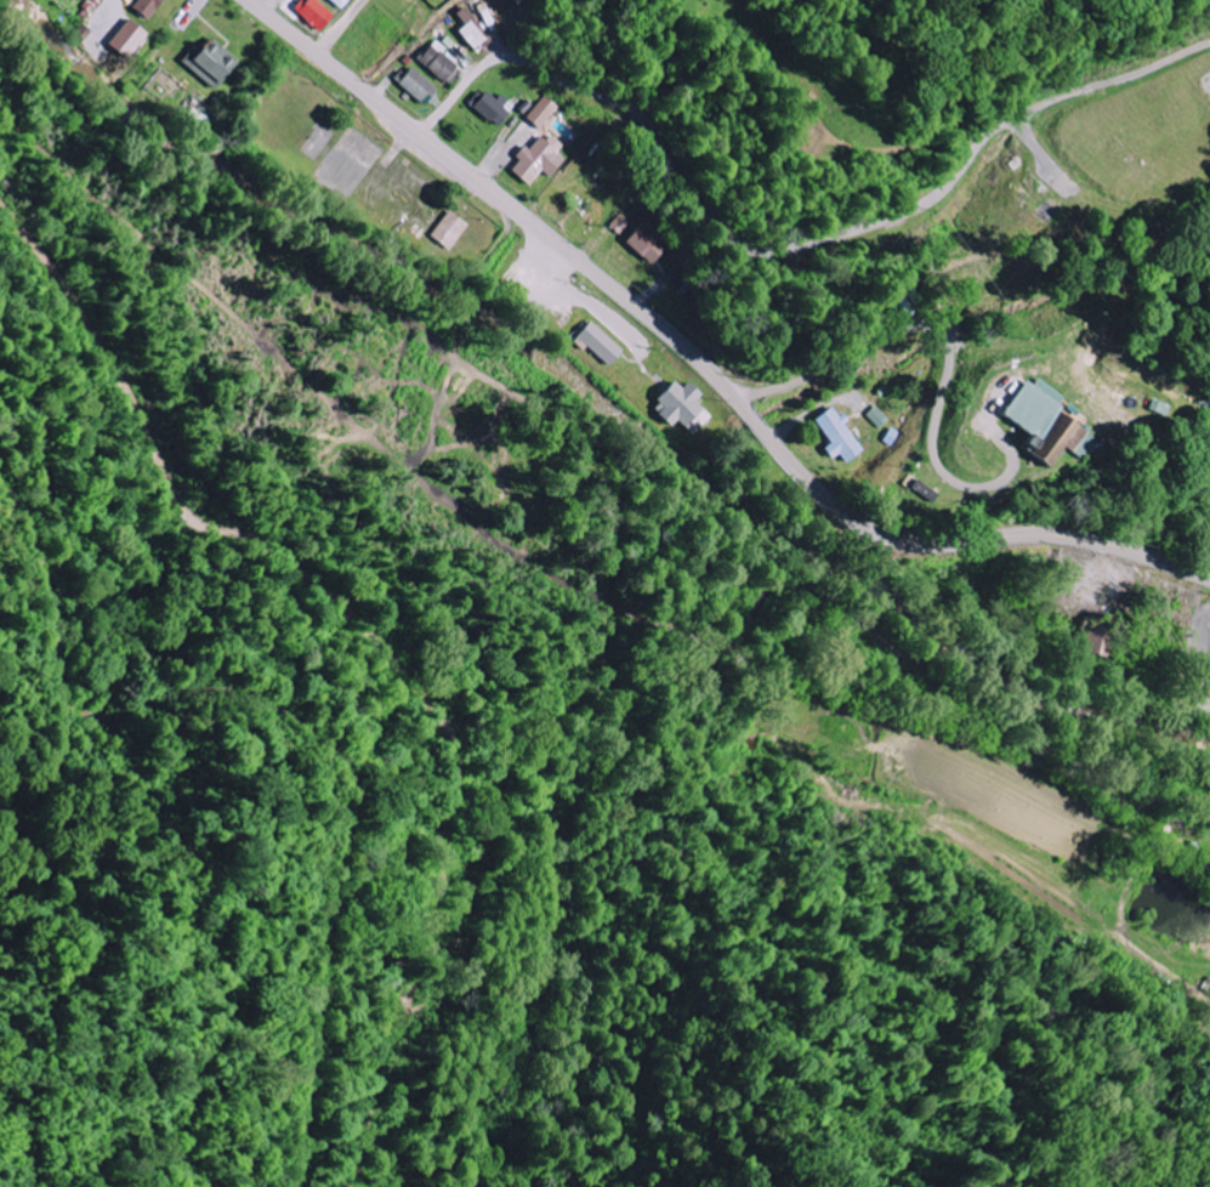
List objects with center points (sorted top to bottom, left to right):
building: (431, 0)
building: (336, 2)
road: (268, 5)
building: (142, 7)
building: (312, 13)
road: (342, 27)
building: (468, 30)
building: (124, 39)
building: (208, 62)
building: (437, 62)
building: (414, 85)
building: (488, 108)
building: (541, 112)
building: (536, 159)
road: (490, 163)
building: (620, 223)
building: (445, 231)
building: (646, 243)
road: (789, 250)
road: (652, 291)
road: (532, 306)
building: (596, 342)
road: (950, 356)
road: (704, 365)
building: (680, 407)
building: (1028, 407)
building: (877, 416)
building: (835, 436)
building: (1034, 438)
building: (1057, 443)
building: (916, 490)
road: (1100, 570)
building: (1095, 642)
road: (359, 682)
building: (1208, 691)
road: (1206, 698)

